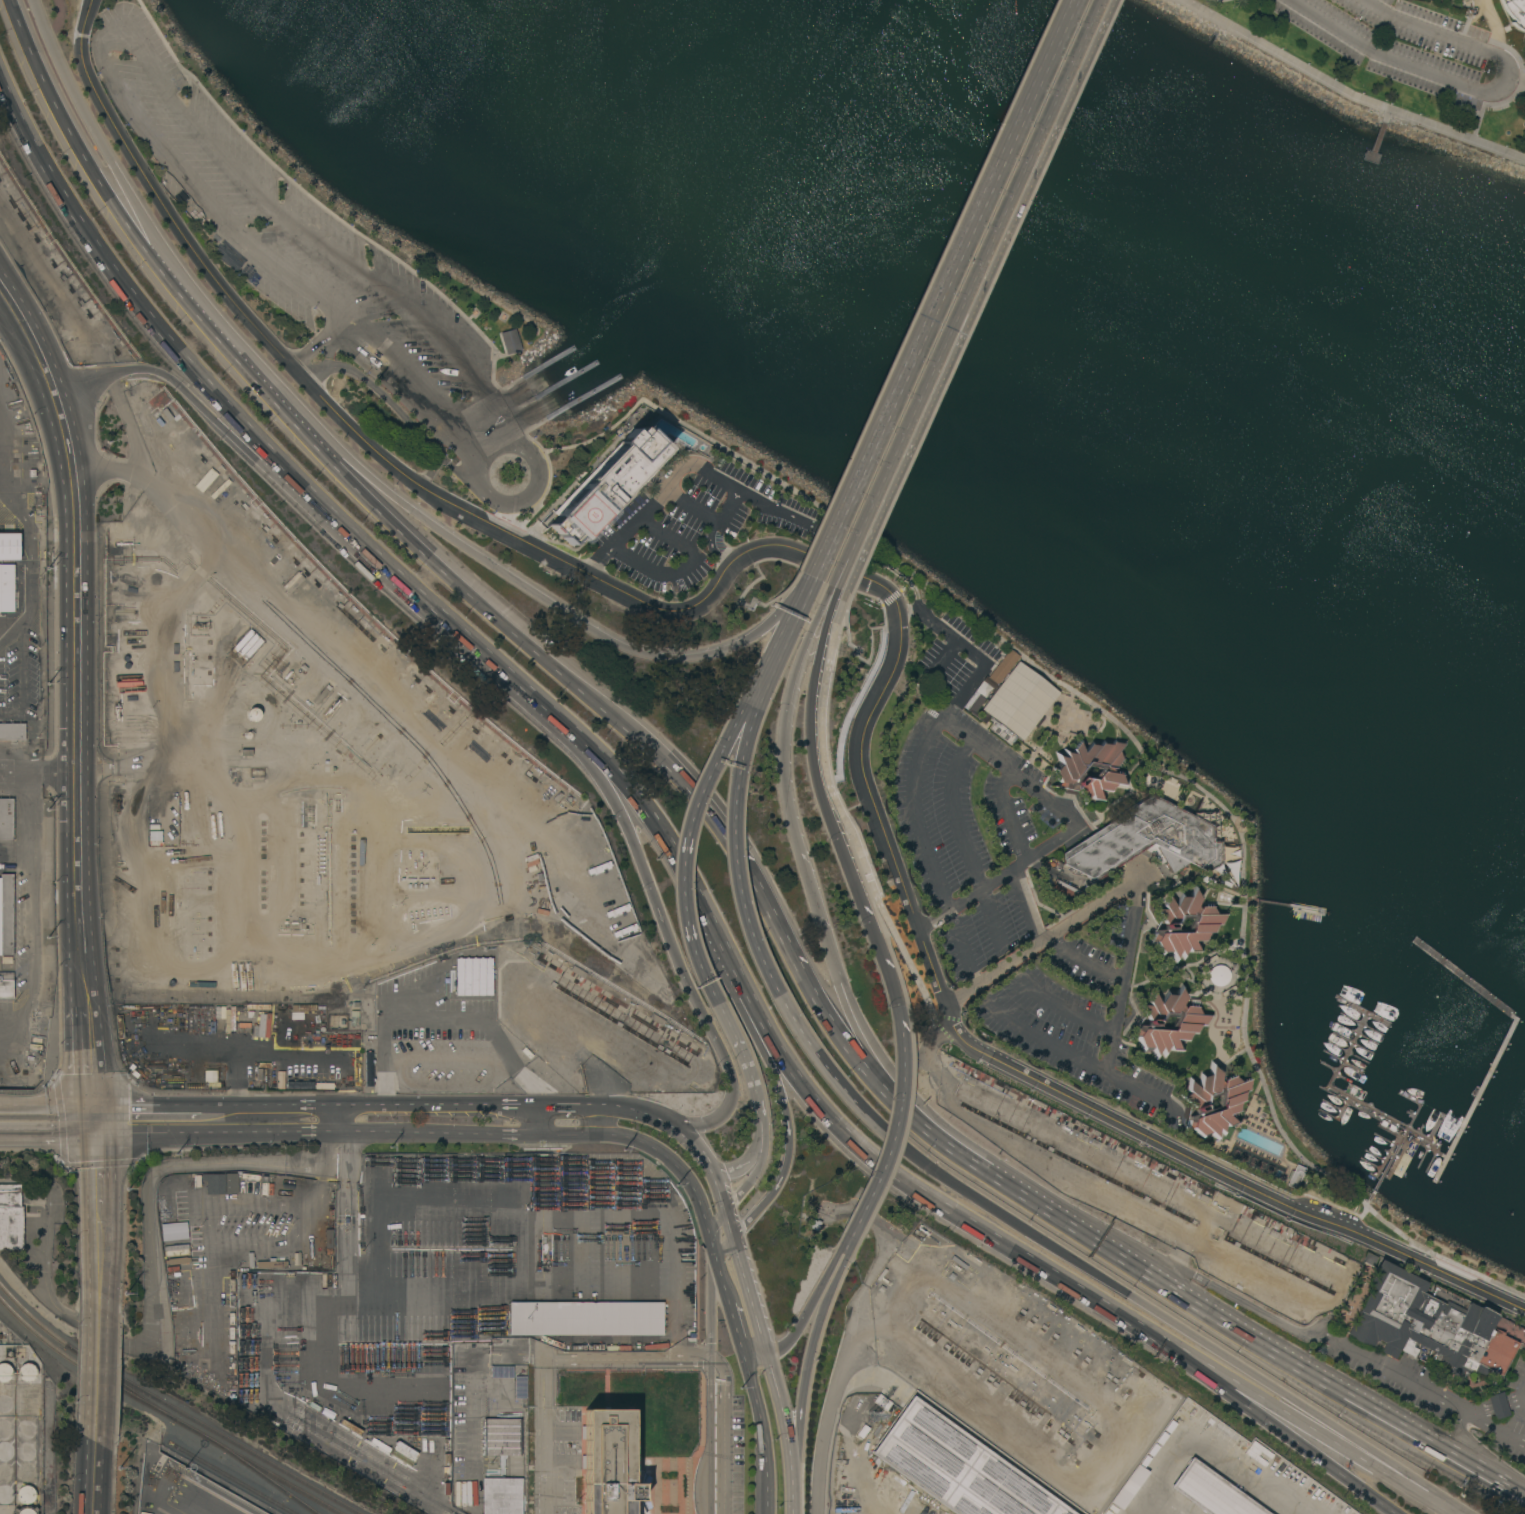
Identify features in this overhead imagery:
road: (1223, 0)
building: (1515, 12)
road: (20, 25)
parking lot: (1399, 43)
park: (1390, 64)
road: (1521, 78)
road: (1517, 81)
road: (1480, 89)
road: (1347, 93)
road: (1379, 133)
road: (210, 143)
pier: (1374, 146)
road: (107, 155)
road: (98, 185)
road: (208, 268)
river: (1050, 271)
road: (974, 280)
road: (945, 287)
road: (4, 291)
road: (979, 296)
road: (138, 303)
road: (338, 333)
building: (510, 341)
road: (35, 345)
road: (325, 347)
road: (234, 366)
road: (386, 401)
road: (195, 402)
road: (129, 425)
building: (633, 458)
road: (431, 471)
road: (541, 495)
road: (655, 495)
road: (527, 501)
road: (689, 503)
road: (712, 528)
road: (838, 538)
road: (869, 539)
building: (10, 546)
road: (684, 568)
road: (837, 573)
road: (840, 575)
road: (830, 578)
road: (811, 580)
road: (792, 581)
building: (7, 588)
road: (904, 590)
road: (475, 594)
road: (540, 594)
road: (276, 611)
road: (440, 617)
road: (844, 617)
road: (792, 621)
building: (1004, 667)
road: (751, 697)
road: (77, 698)
building: (1021, 702)
road: (855, 704)
road: (757, 707)
building: (254, 714)
road: (782, 718)
building: (1076, 722)
road: (932, 727)
building: (12, 731)
road: (810, 746)
building: (1090, 768)
road: (38, 773)
road: (1000, 793)
road: (953, 814)
building: (6, 819)
road: (655, 824)
building: (154, 837)
building: (1143, 840)
road: (1047, 850)
road: (891, 858)
road: (682, 861)
road: (736, 870)
road: (998, 879)
building: (1215, 896)
road: (966, 901)
road: (1024, 906)
road: (28, 911)
building: (6, 914)
road: (995, 917)
road: (933, 921)
building: (1184, 924)
road: (1040, 940)
road: (671, 947)
road: (962, 948)
road: (878, 950)
road: (790, 958)
road: (1087, 964)
building: (473, 977)
road: (1121, 983)
building: (6, 985)
road: (848, 1006)
building: (303, 1007)
road: (1065, 1009)
building: (354, 1018)
road: (443, 1018)
road: (725, 1019)
building: (1168, 1022)
building: (261, 1026)
road: (808, 1047)
road: (961, 1052)
road: (1081, 1062)
road: (93, 1070)
road: (748, 1071)
road: (779, 1091)
building: (1214, 1101)
road: (48, 1104)
road: (563, 1104)
road: (597, 1104)
traffic signals: (96, 1105)
road: (149, 1105)
road: (273, 1105)
road: (445, 1105)
road: (639, 1110)
road: (345, 1118)
road: (545, 1120)
road: (894, 1127)
road: (221, 1133)
road: (49, 1134)
traffic signals: (98, 1135)
road: (590, 1135)
road: (691, 1142)
road: (754, 1147)
road: (761, 1157)
road: (317, 1167)
road: (892, 1174)
building: (1294, 1176)
building: (191, 1182)
building: (233, 1182)
building: (218, 1183)
road: (717, 1189)
road: (347, 1207)
building: (167, 1211)
building: (11, 1217)
road: (99, 1221)
road: (717, 1221)
road: (729, 1223)
building: (174, 1231)
road: (207, 1234)
building: (329, 1238)
road: (846, 1244)
building: (176, 1247)
road: (726, 1250)
building: (272, 1263)
road: (1488, 1280)
road: (510, 1285)
road: (1181, 1290)
road: (750, 1295)
road: (1242, 1302)
road: (810, 1304)
road: (708, 1310)
railway: (31, 1315)
road: (1157, 1315)
building: (585, 1318)
road: (674, 1322)
building: (1436, 1328)
road: (738, 1331)
road: (756, 1355)
road: (706, 1359)
road: (473, 1368)
building: (502, 1371)
building: (5, 1372)
building: (27, 1372)
road: (805, 1373)
road: (98, 1374)
road: (1395, 1375)
railway: (121, 1381)
building: (521, 1387)
road: (1521, 1391)
road: (271, 1398)
road: (1521, 1400)
road: (1512, 1402)
road: (1499, 1406)
road: (1476, 1410)
railway: (166, 1412)
road: (828, 1414)
road: (1475, 1420)
road: (1270, 1422)
road: (1300, 1423)
railway: (214, 1429)
road: (787, 1432)
road: (1115, 1433)
road: (763, 1435)
building: (502, 1436)
road: (544, 1436)
road: (1205, 1446)
building: (609, 1465)
building: (958, 1466)
road: (1477, 1467)
street lamp: (186, 1469)
road: (1478, 1471)
railway: (260, 1473)
road: (96, 1477)
building: (639, 1477)
railway: (235, 1479)
building: (1212, 1492)
building: (26, 1494)
building: (502, 1495)
railway: (211, 1500)
railway: (199, 1503)
railway: (187, 1508)
building: (26, 1511)
railway: (315, 1512)

